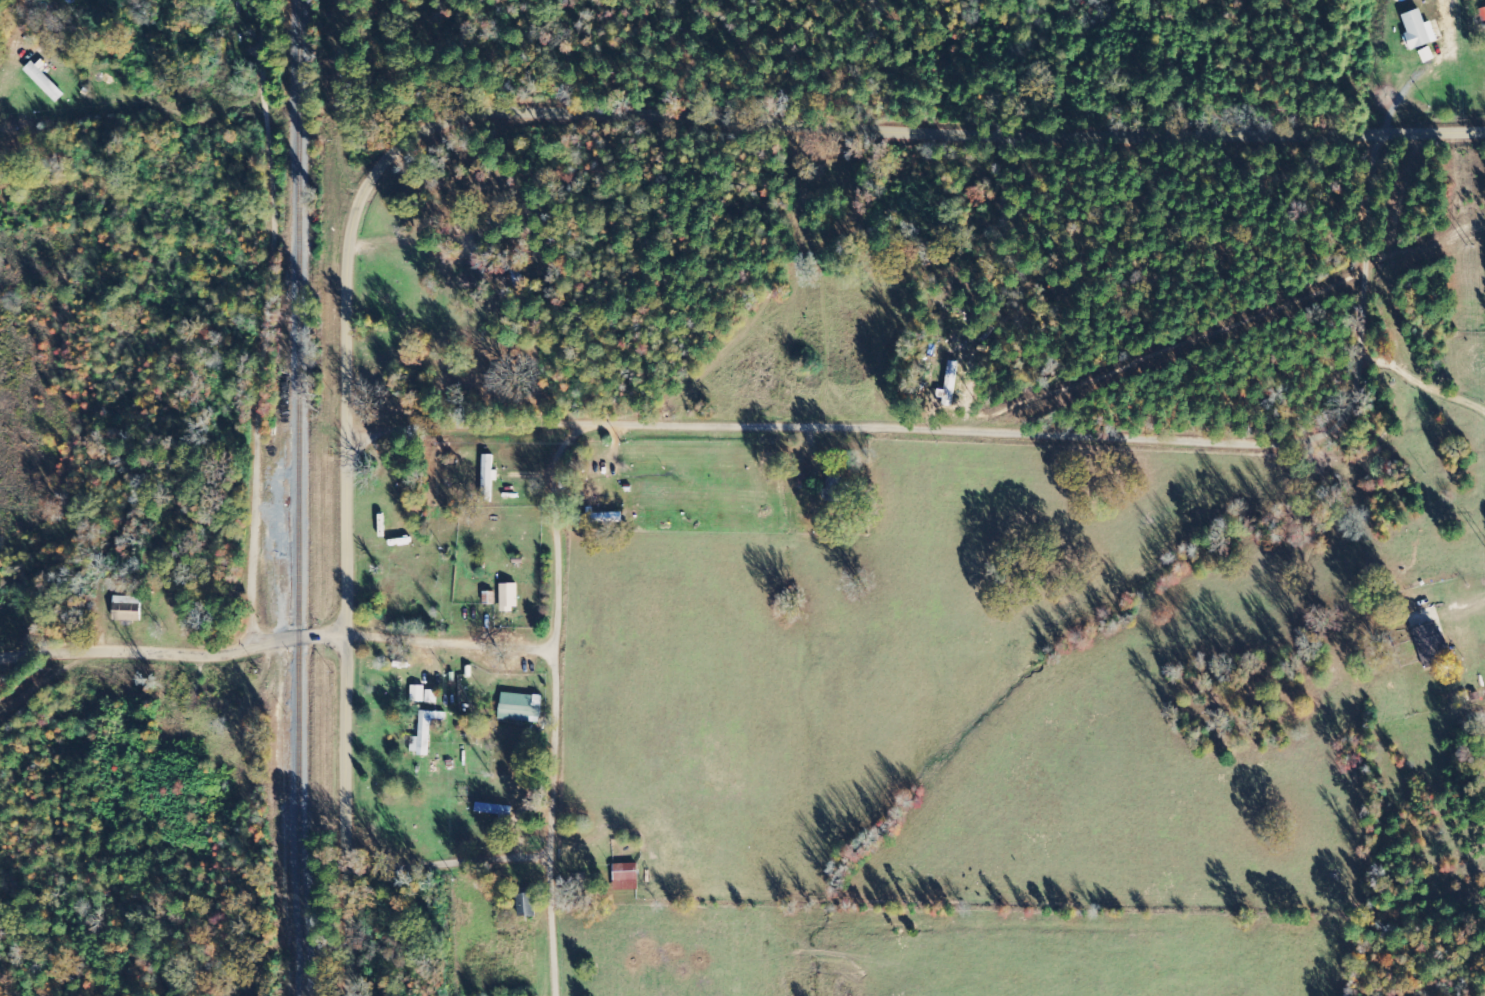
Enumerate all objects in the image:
road: (687, 140)
power tower: (1469, 249)
road: (261, 325)
road: (984, 426)
building: (486, 478)
railway: (301, 497)
road: (1404, 521)
building: (506, 596)
building: (129, 606)
road: (278, 642)
building: (421, 695)
building: (517, 705)
road: (556, 710)
building: (425, 733)
road: (347, 815)
road: (450, 864)
building: (622, 876)

